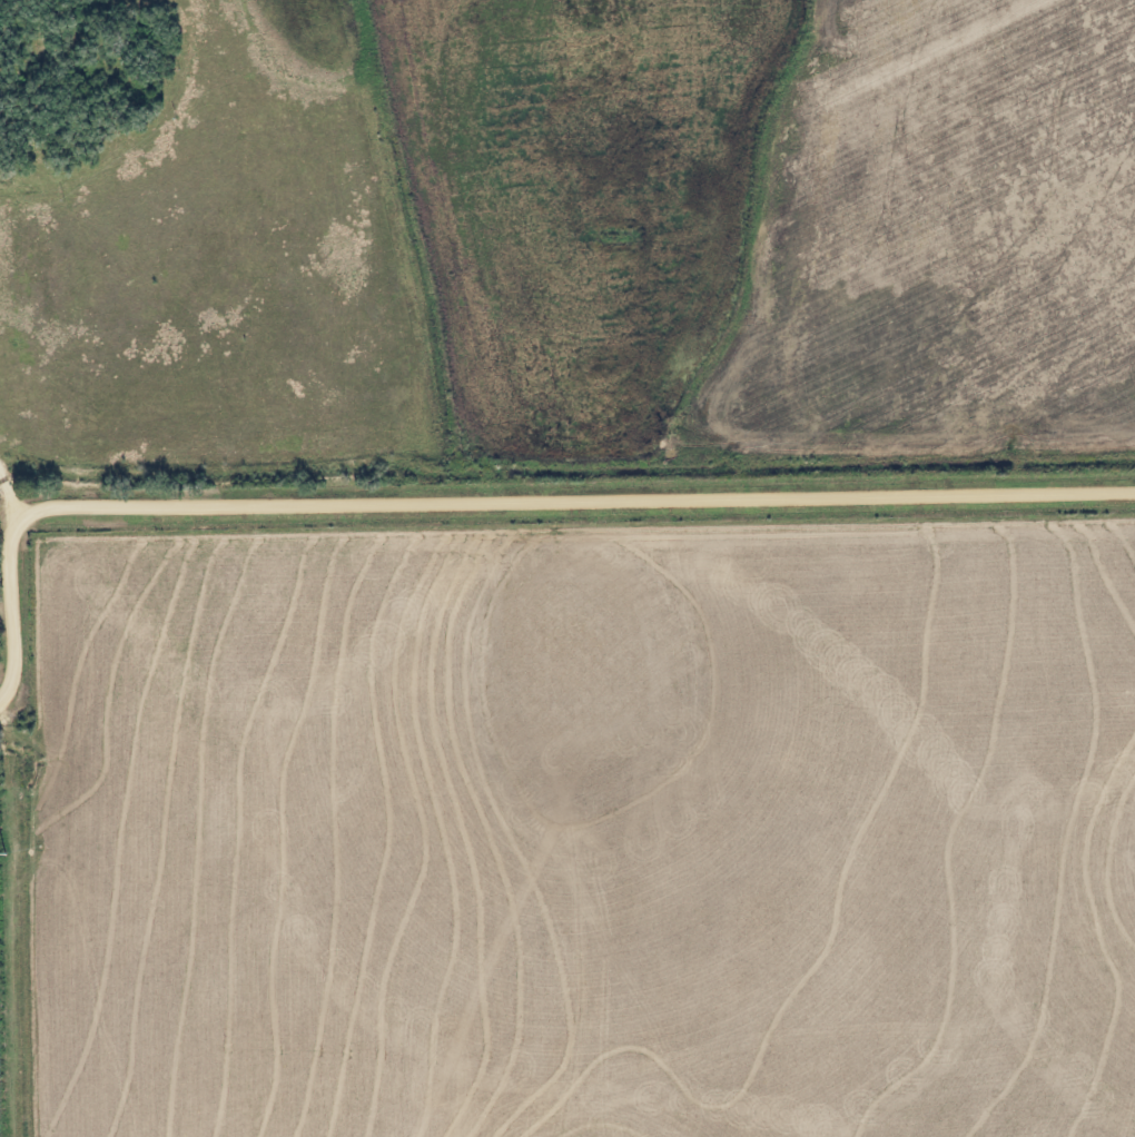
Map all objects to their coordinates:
road: (12, 486)
road: (580, 501)
road: (13, 605)

